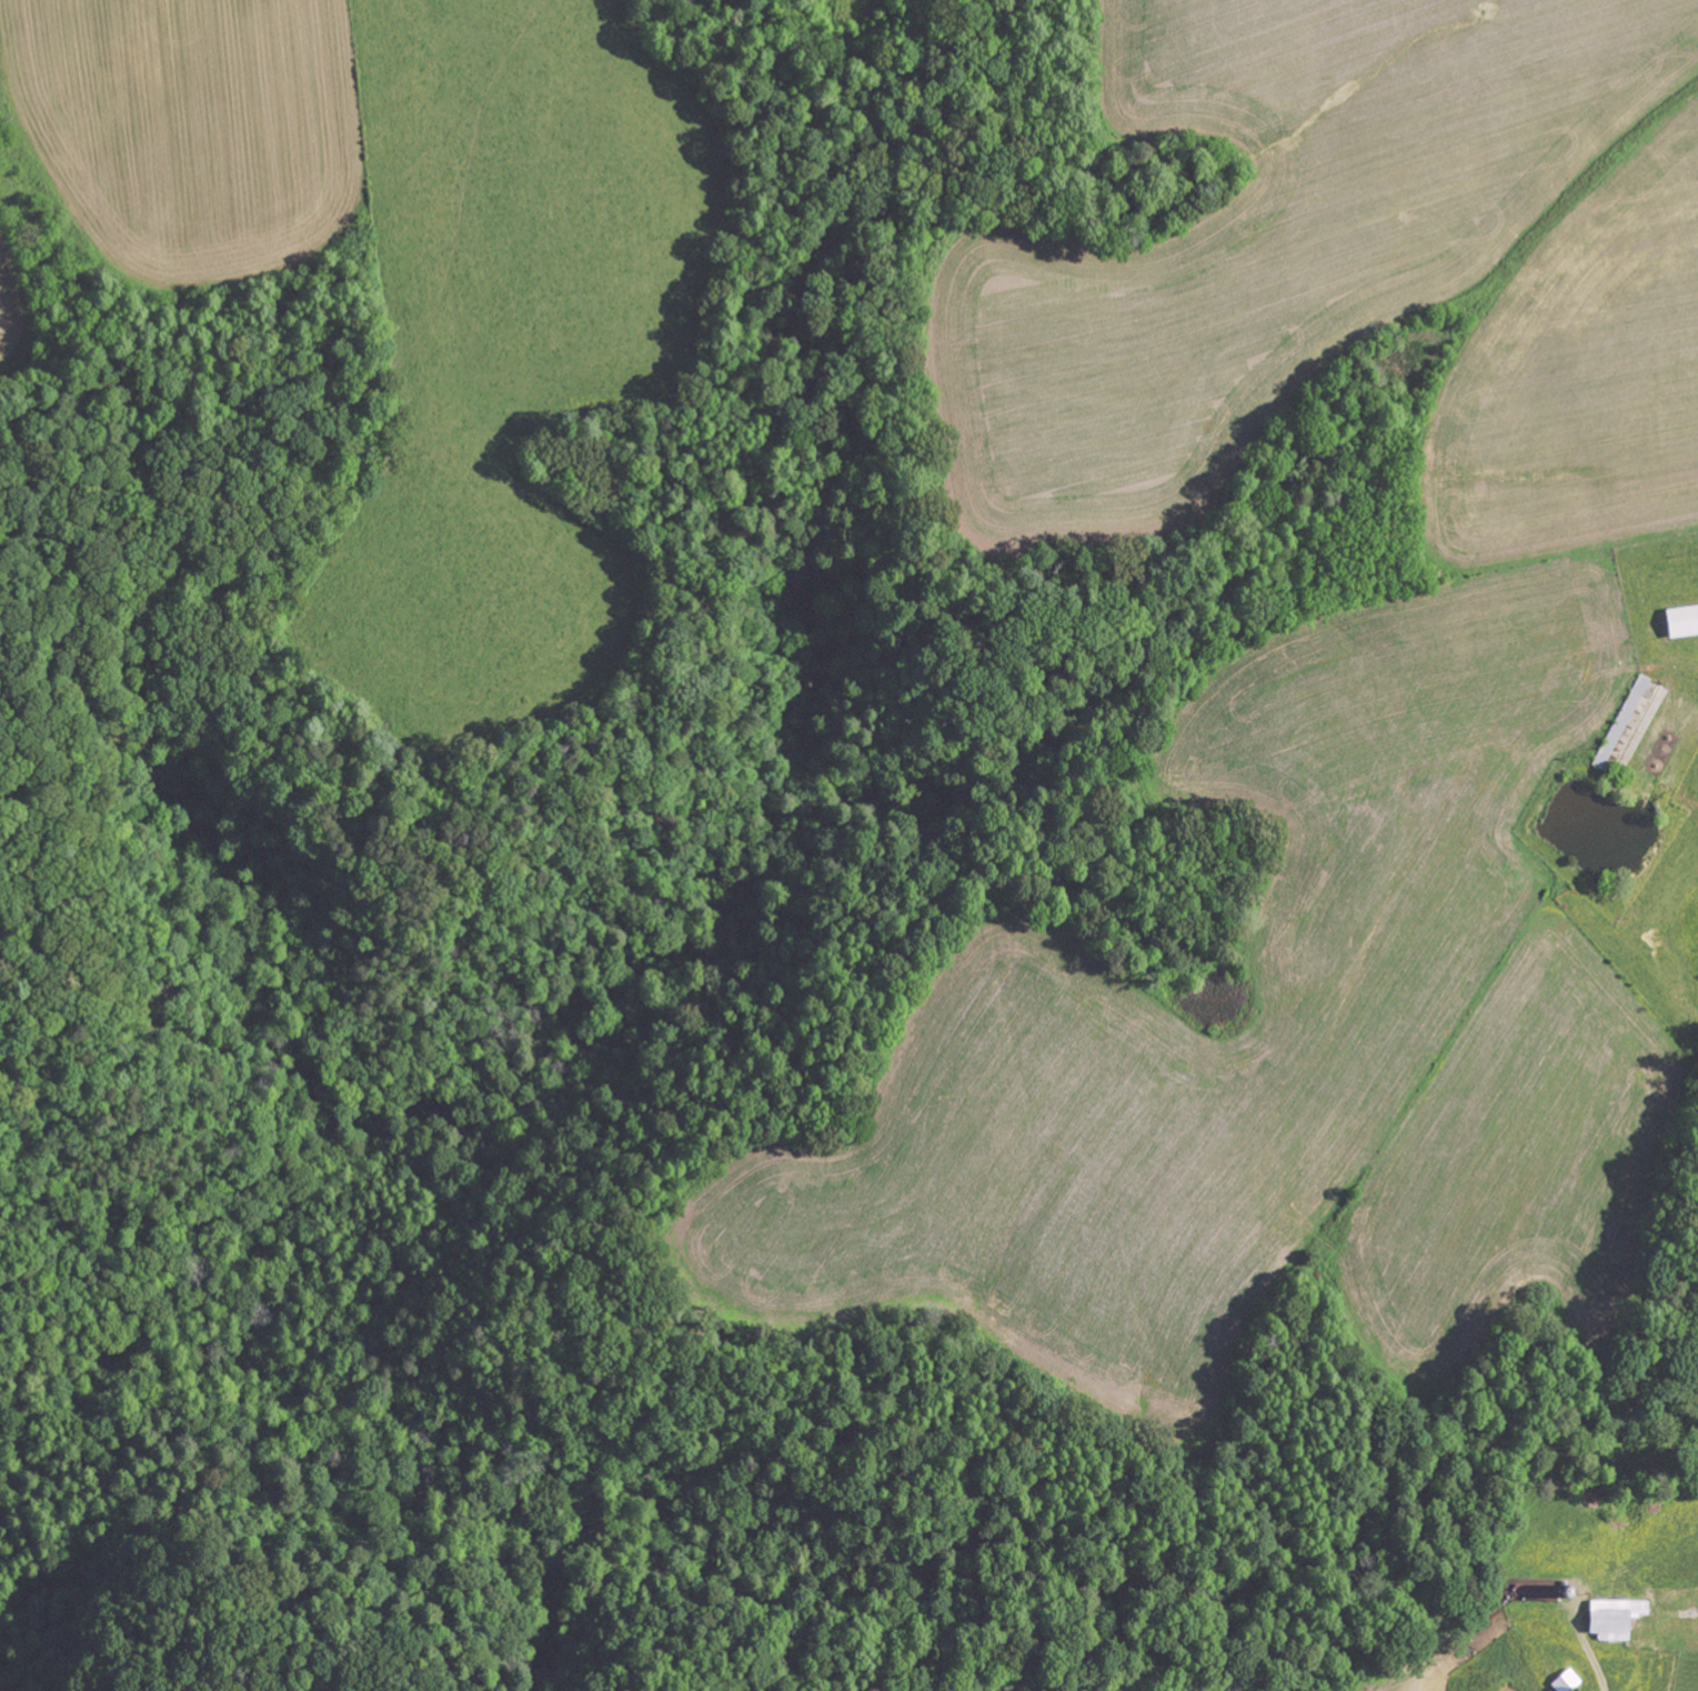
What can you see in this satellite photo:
building: (1681, 621)
building: (1612, 1617)
building: (1564, 1682)

